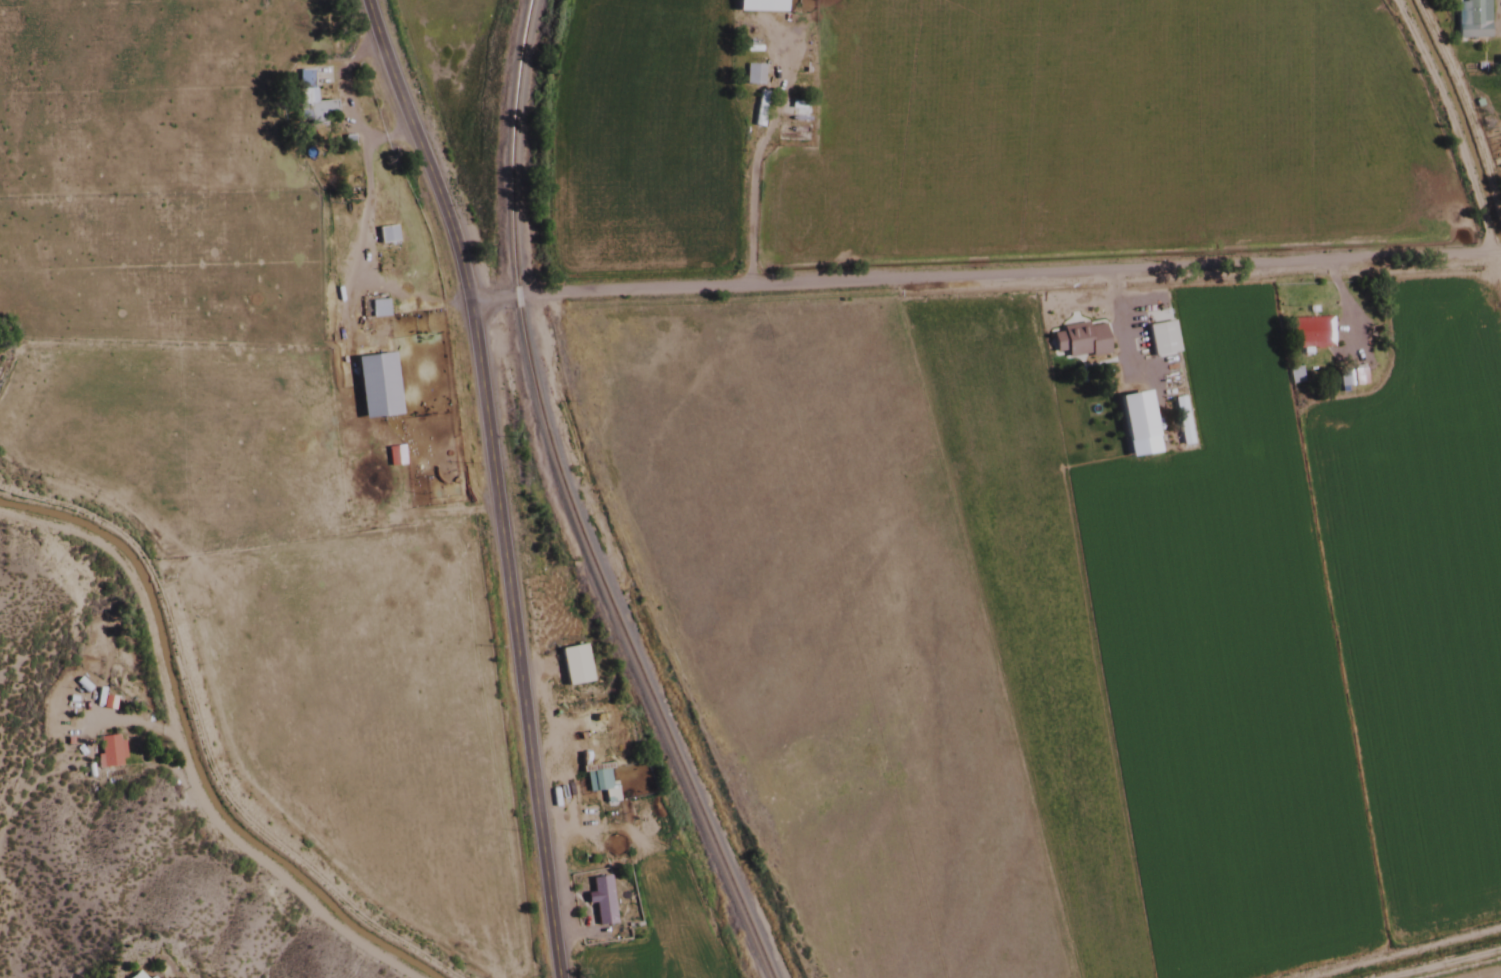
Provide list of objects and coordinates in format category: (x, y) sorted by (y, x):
building: (757, 6)
building: (1471, 19)
building: (1497, 64)
building: (752, 75)
building: (314, 96)
building: (759, 109)
building: (385, 235)
road: (980, 274)
building: (377, 309)
building: (1309, 332)
building: (1160, 338)
building: (1078, 340)
railway: (521, 345)
building: (1350, 378)
building: (374, 385)
building: (1134, 416)
building: (1180, 421)
road: (483, 481)
building: (570, 665)
road: (195, 744)
building: (107, 753)
road: (171, 754)
building: (600, 782)
railway: (702, 825)
building: (599, 901)
building: (134, 975)
building: (149, 977)

